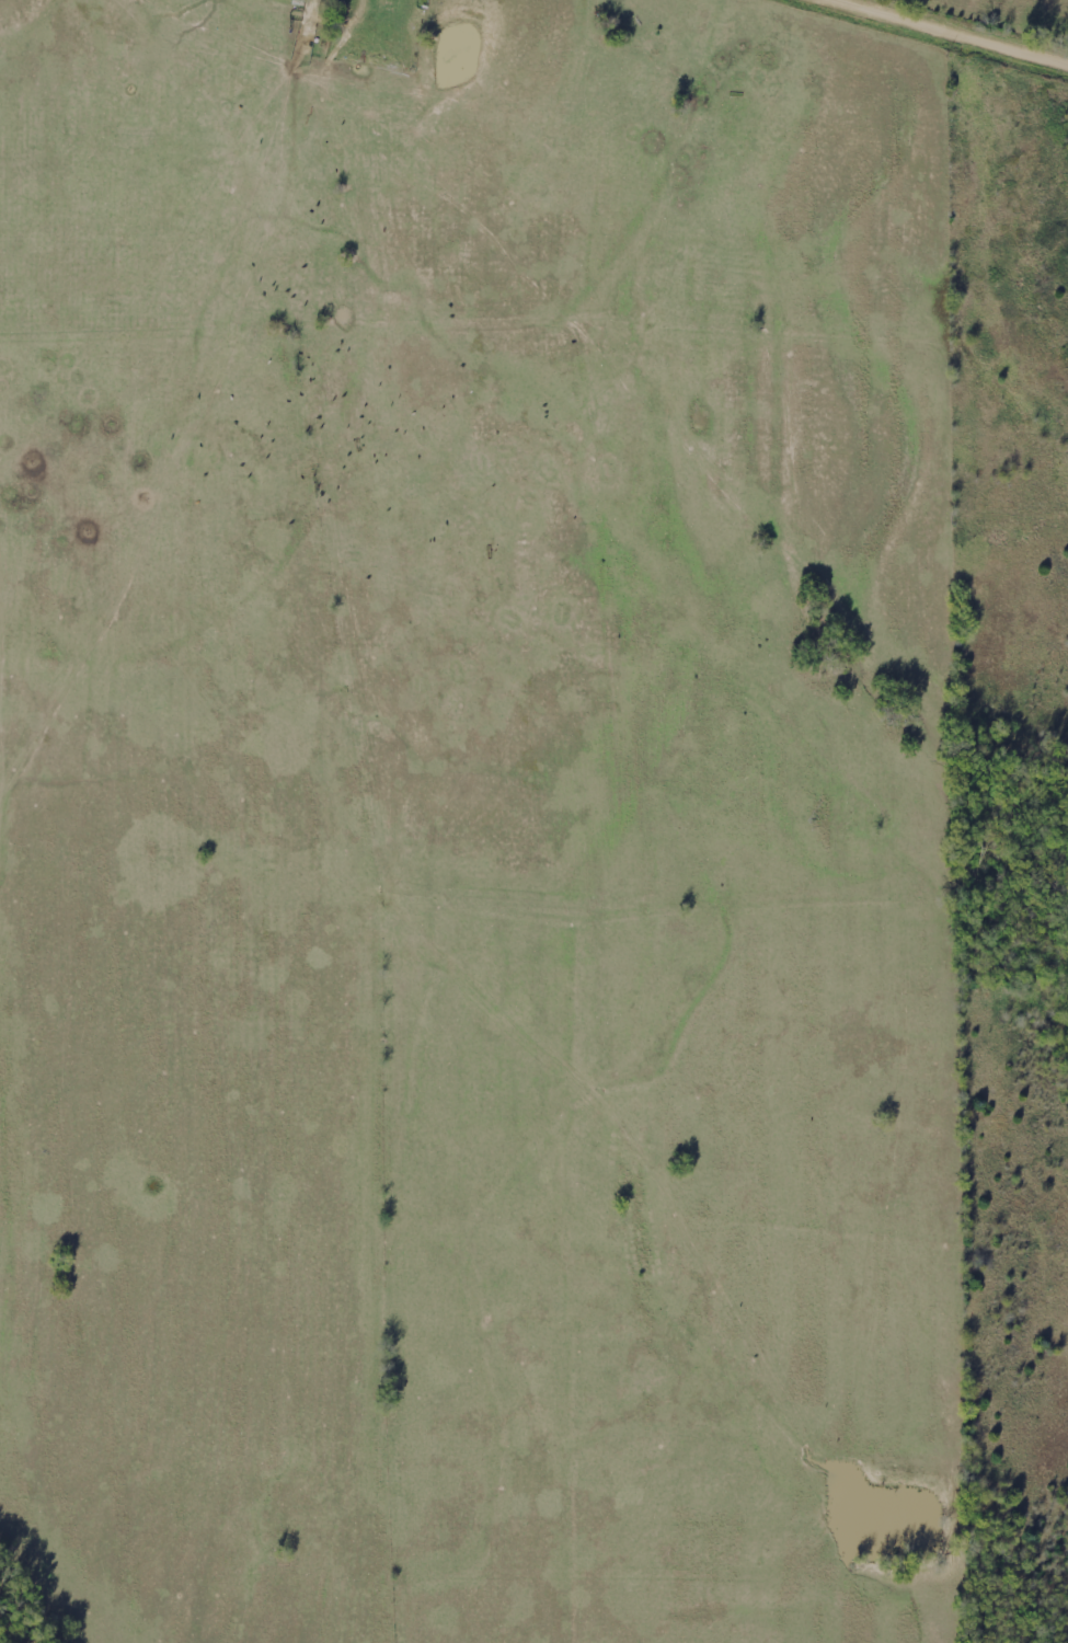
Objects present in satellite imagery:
building: (299, 2)
road: (949, 33)

